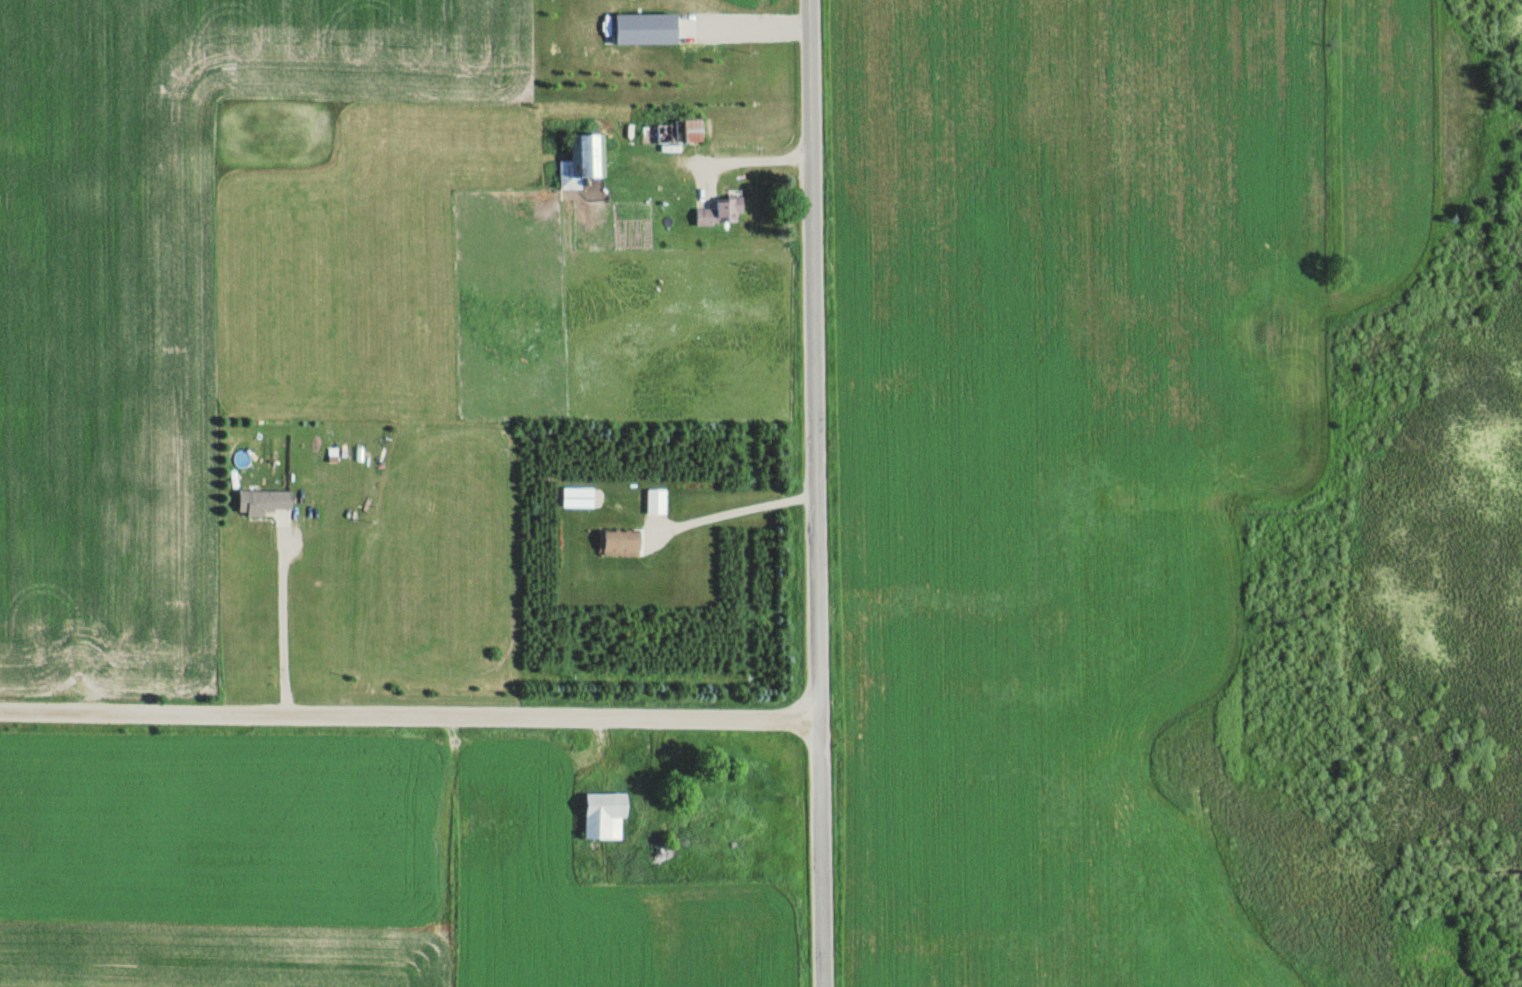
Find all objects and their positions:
building: (716, 65)
building: (692, 130)
building: (665, 132)
building: (577, 160)
building: (719, 211)
road: (817, 493)
building: (263, 501)
building: (655, 502)
building: (619, 543)
road: (410, 714)
building: (602, 816)

